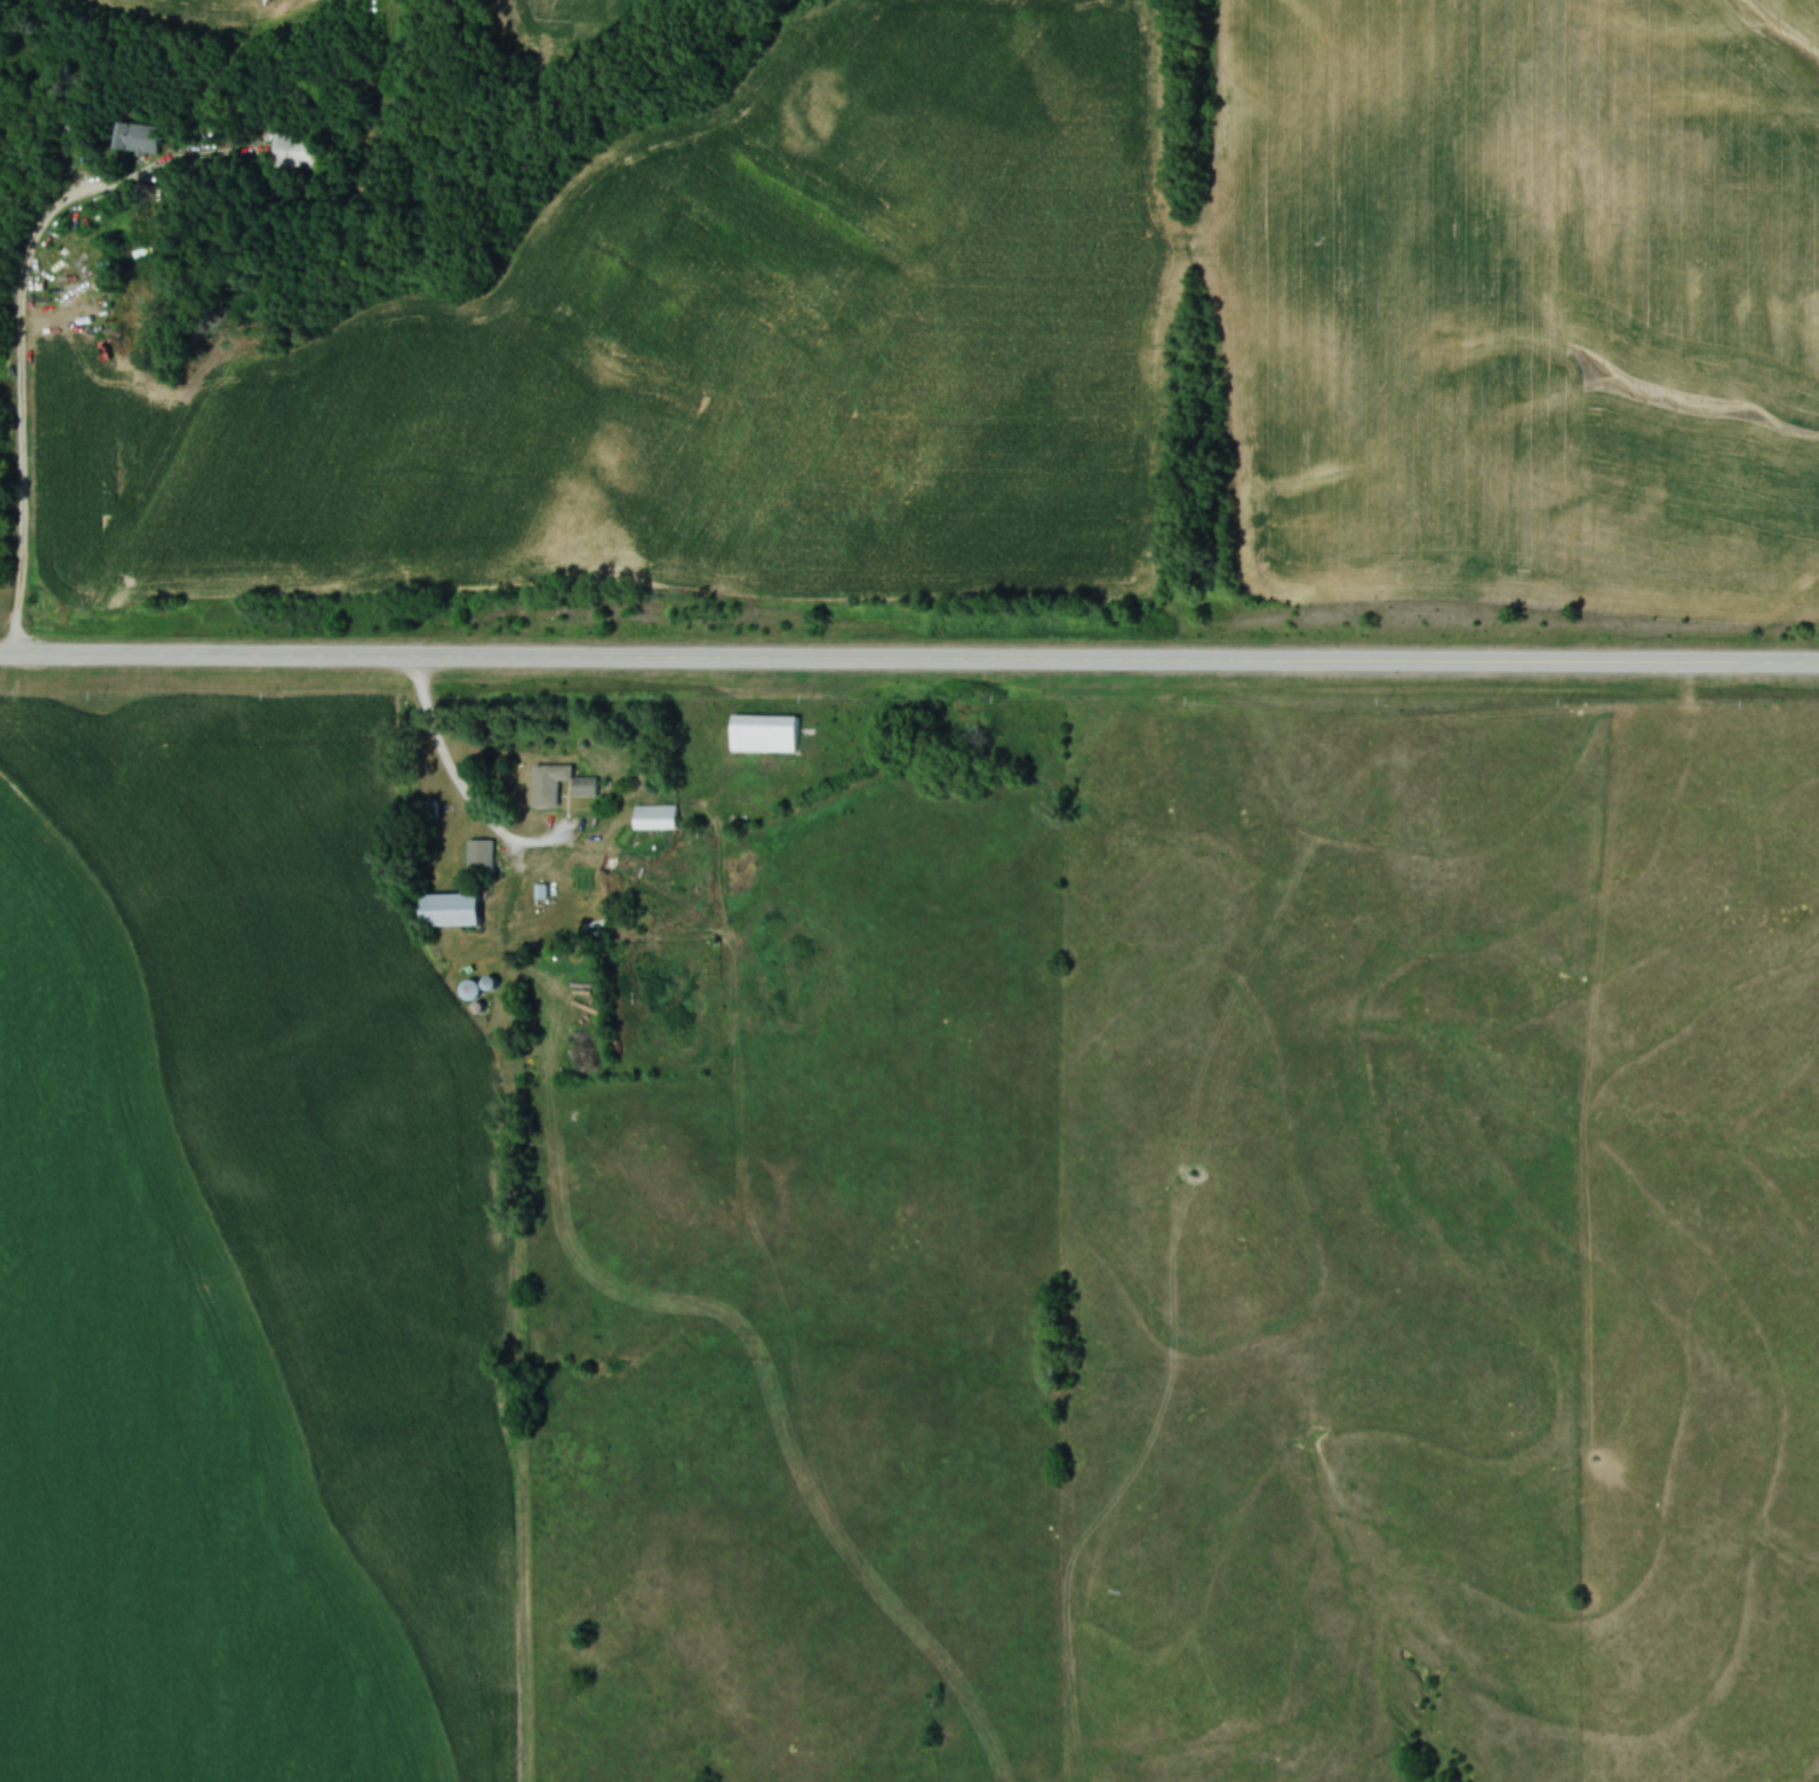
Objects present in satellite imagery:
crop: (206, 11)
crop: (565, 23)
building: (139, 136)
building: (302, 151)
road: (14, 328)
road: (908, 667)
building: (767, 734)
road: (438, 738)
building: (560, 785)
building: (428, 814)
building: (657, 818)
road: (537, 848)
building: (482, 858)
building: (456, 911)

